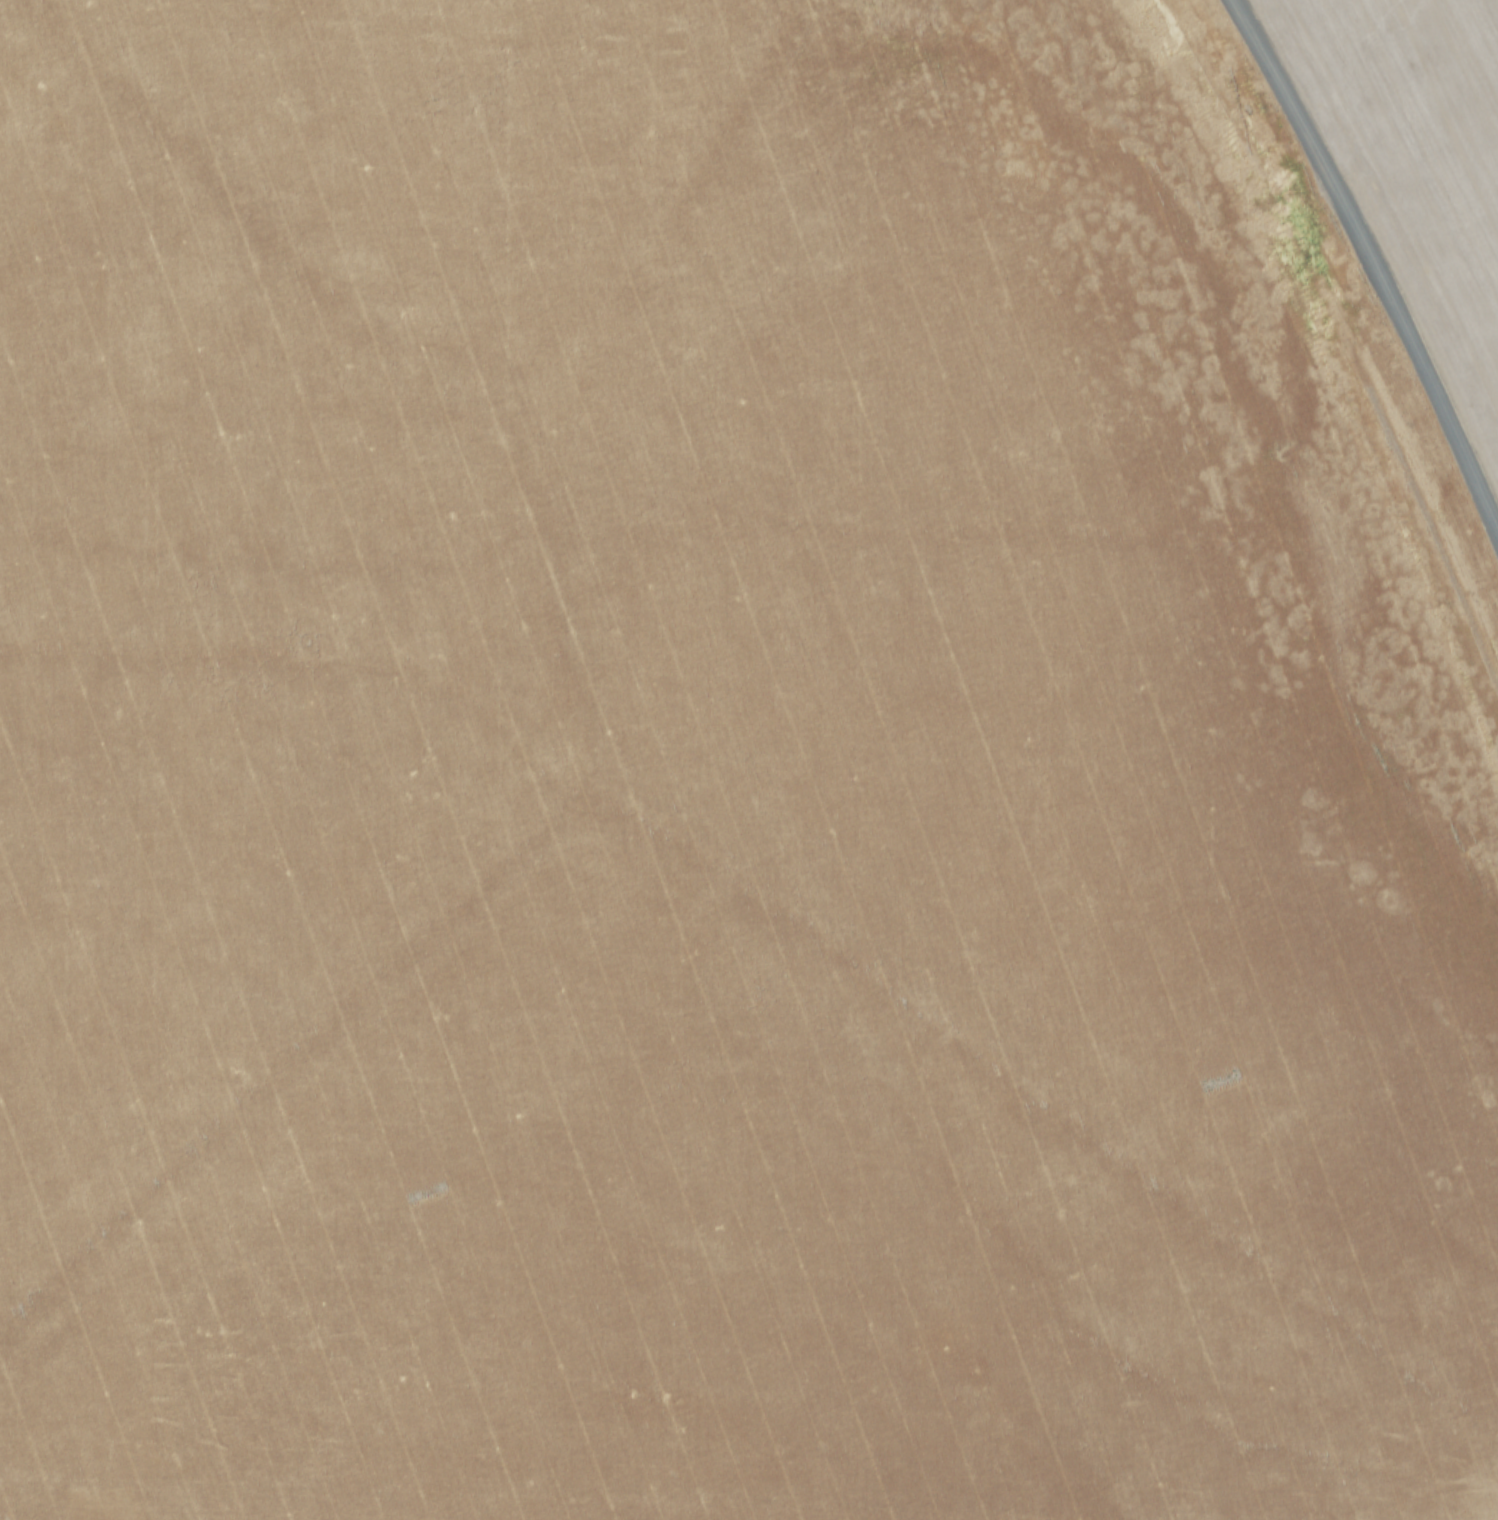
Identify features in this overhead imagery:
road: (1374, 267)

